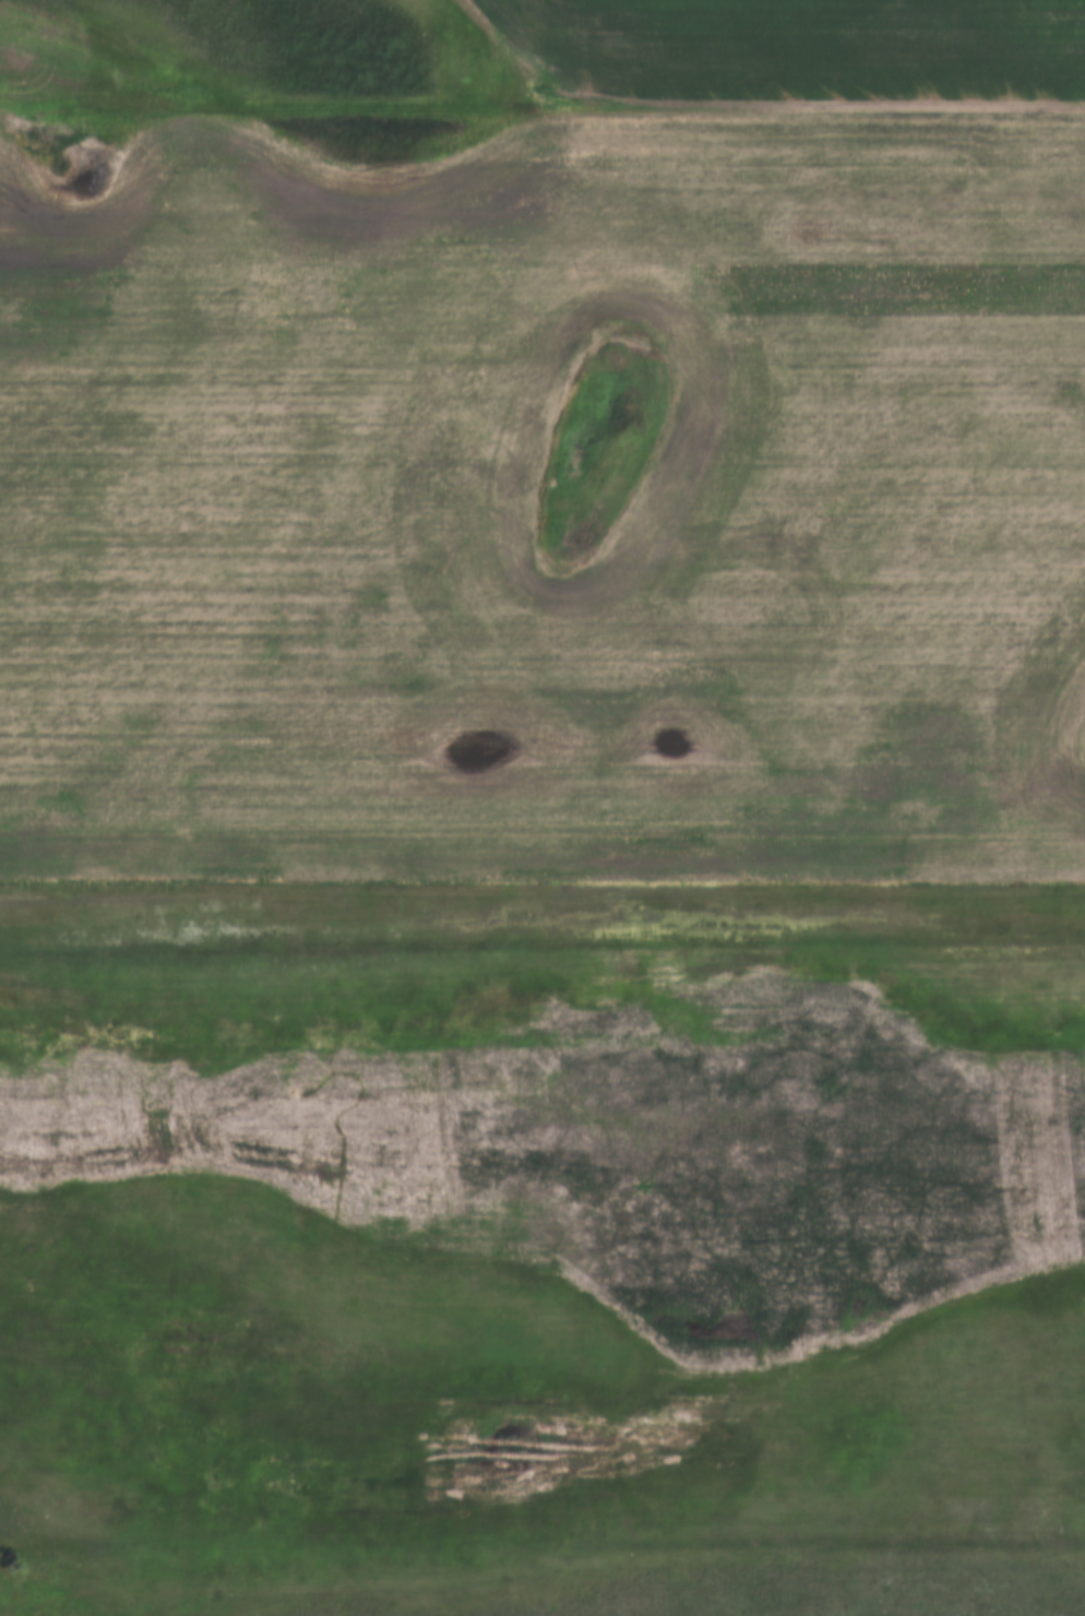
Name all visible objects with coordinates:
road: (541, 102)

